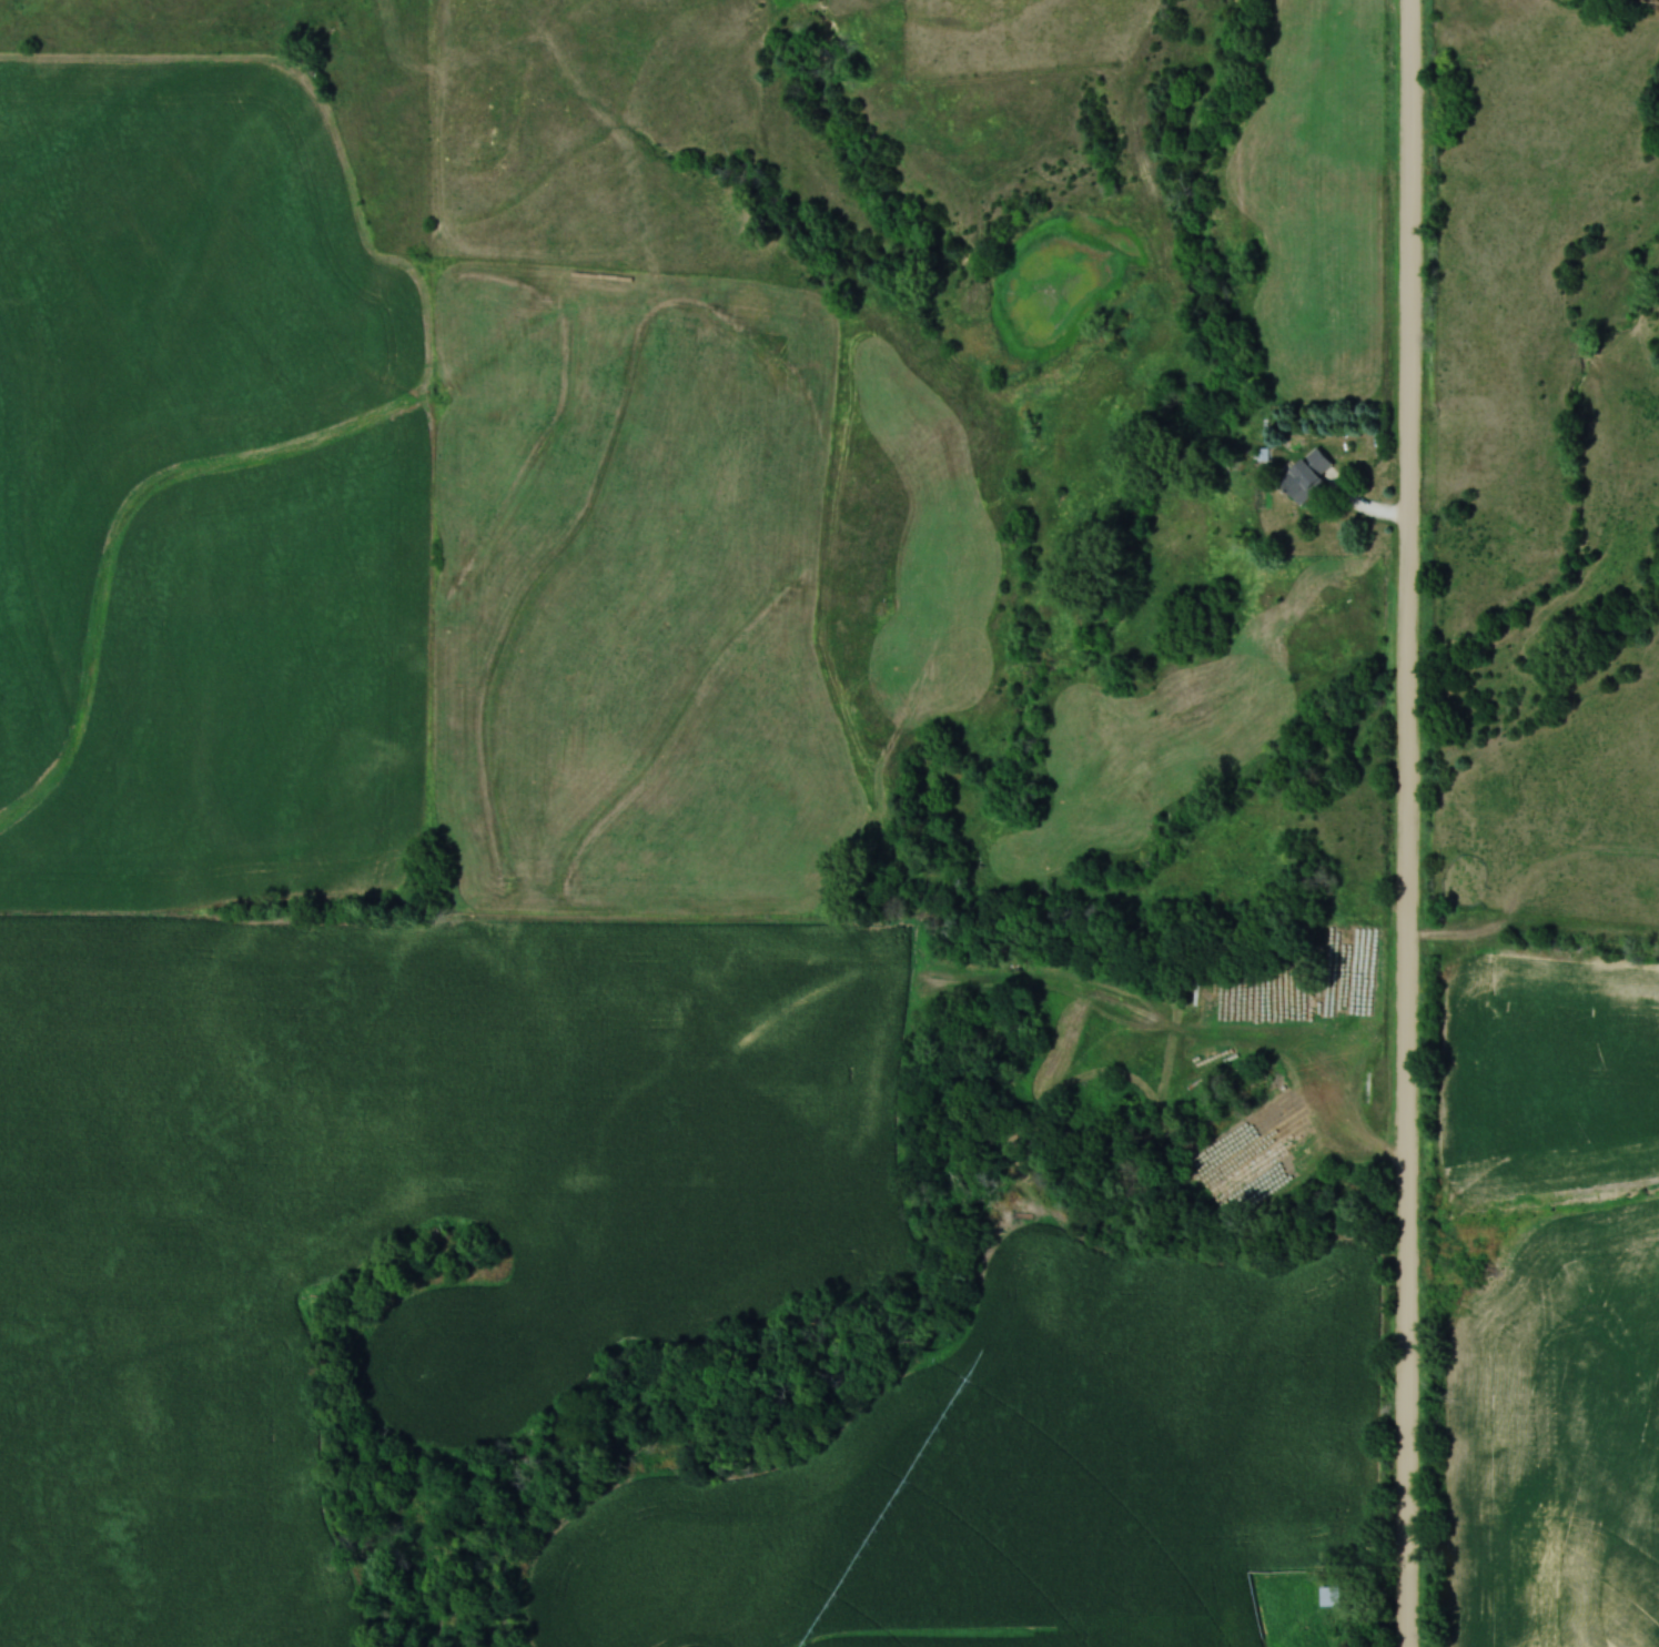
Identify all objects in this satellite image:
building: (1311, 475)
road: (1408, 823)
building: (1349, 1247)
building: (1329, 1595)

